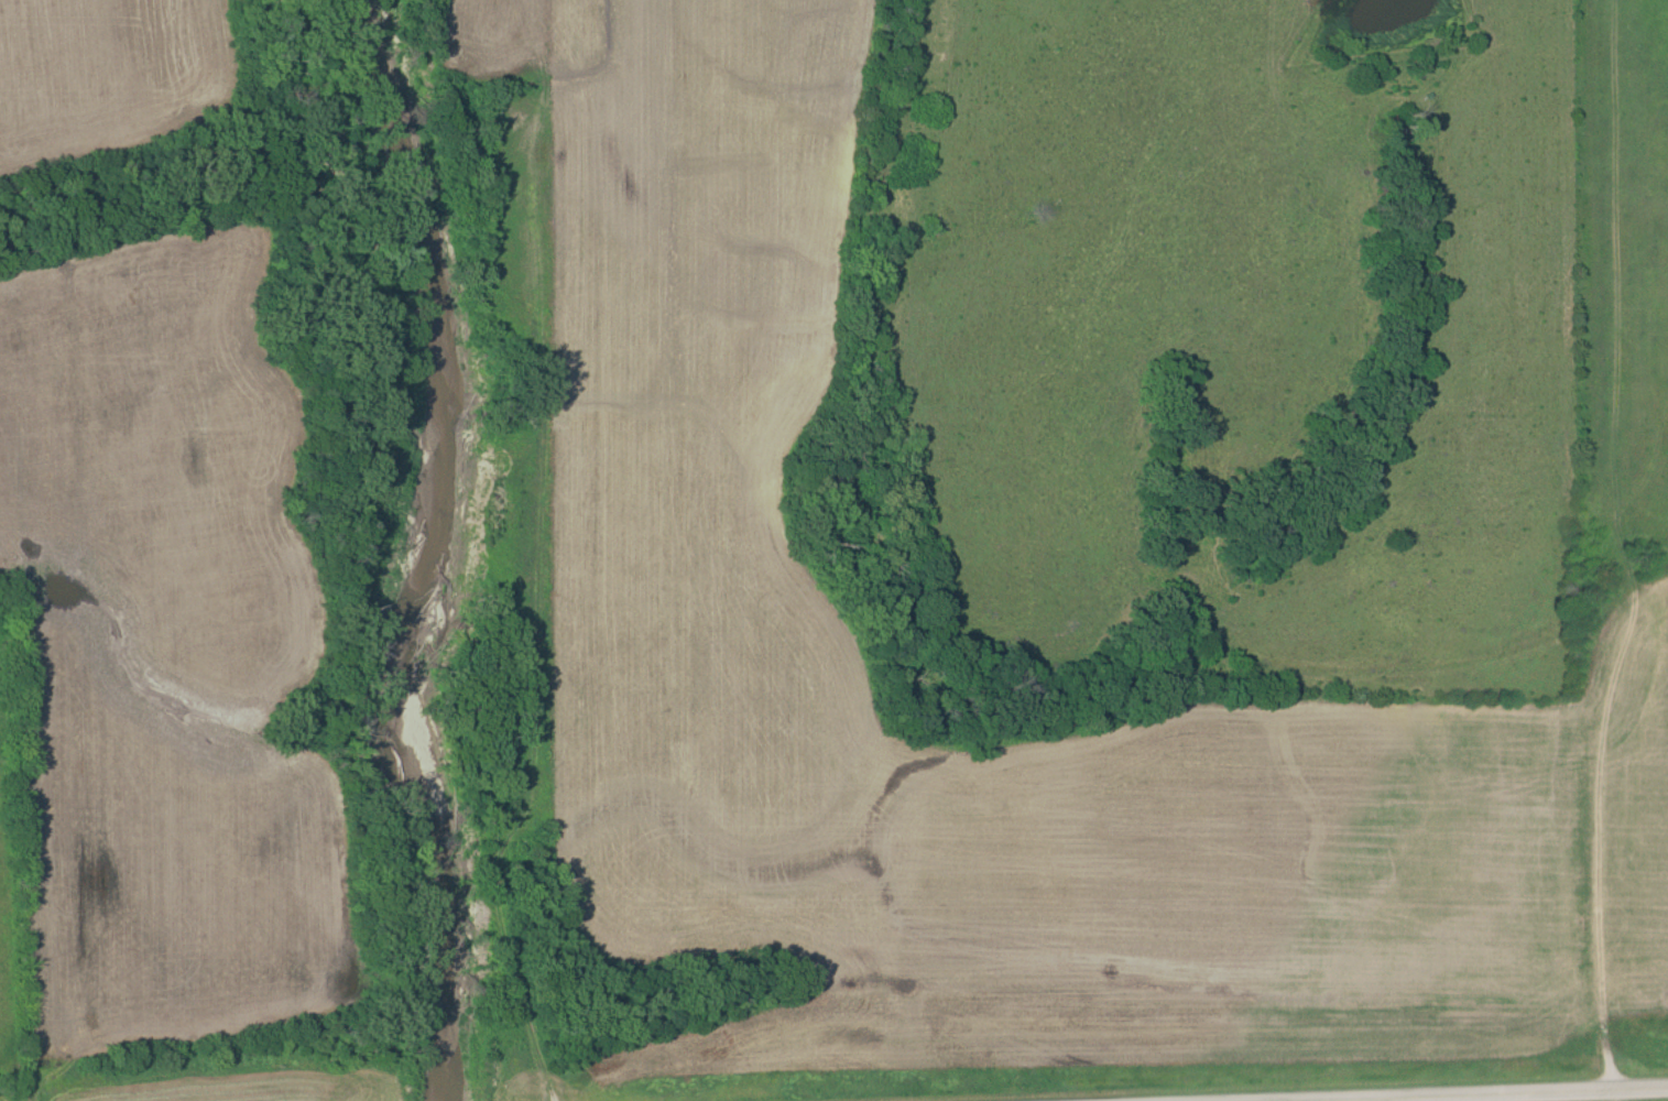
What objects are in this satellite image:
road: (1498, 1095)

